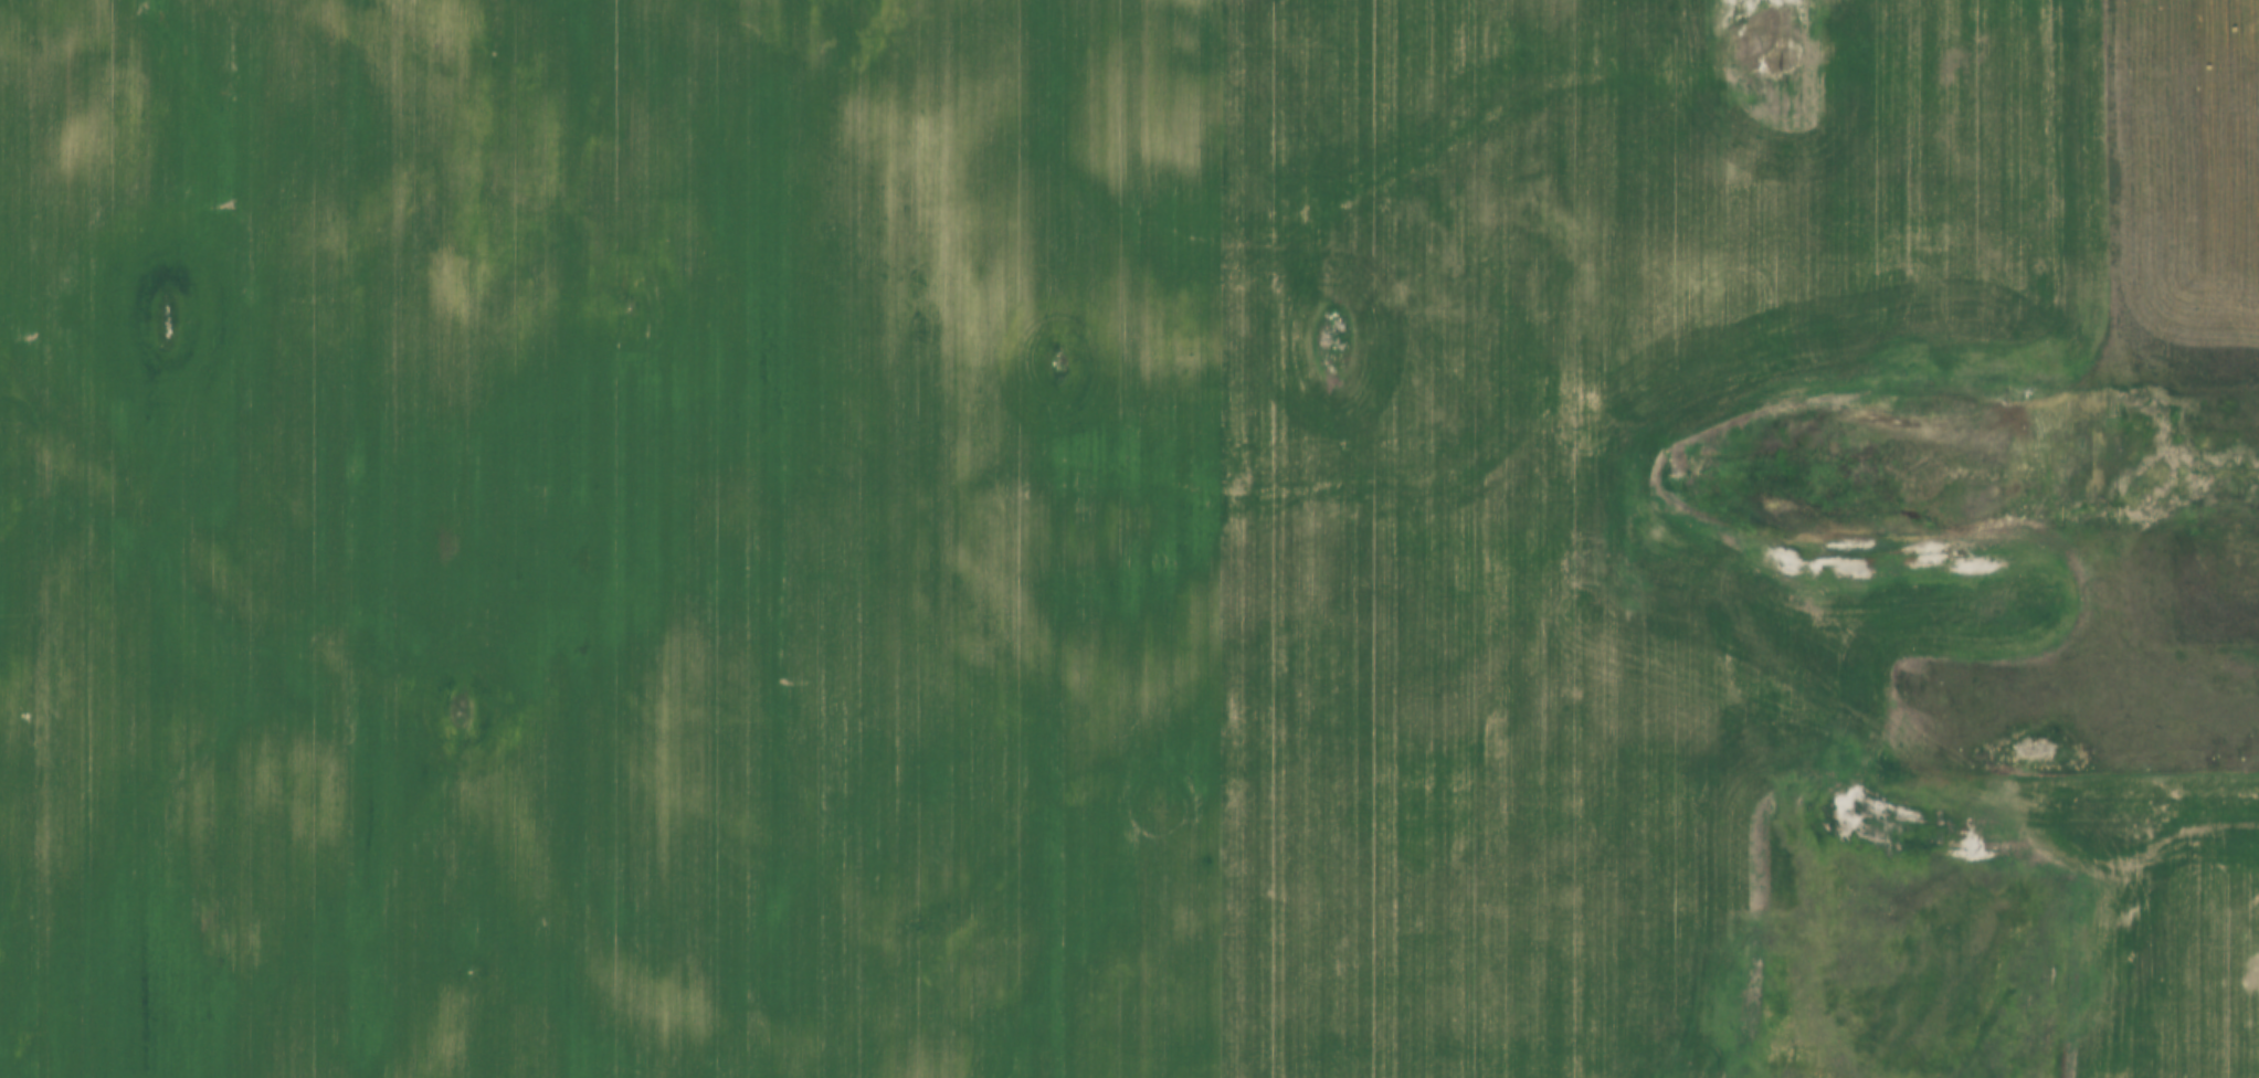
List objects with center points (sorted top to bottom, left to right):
road: (1237, 725)
road: (1305, 911)

